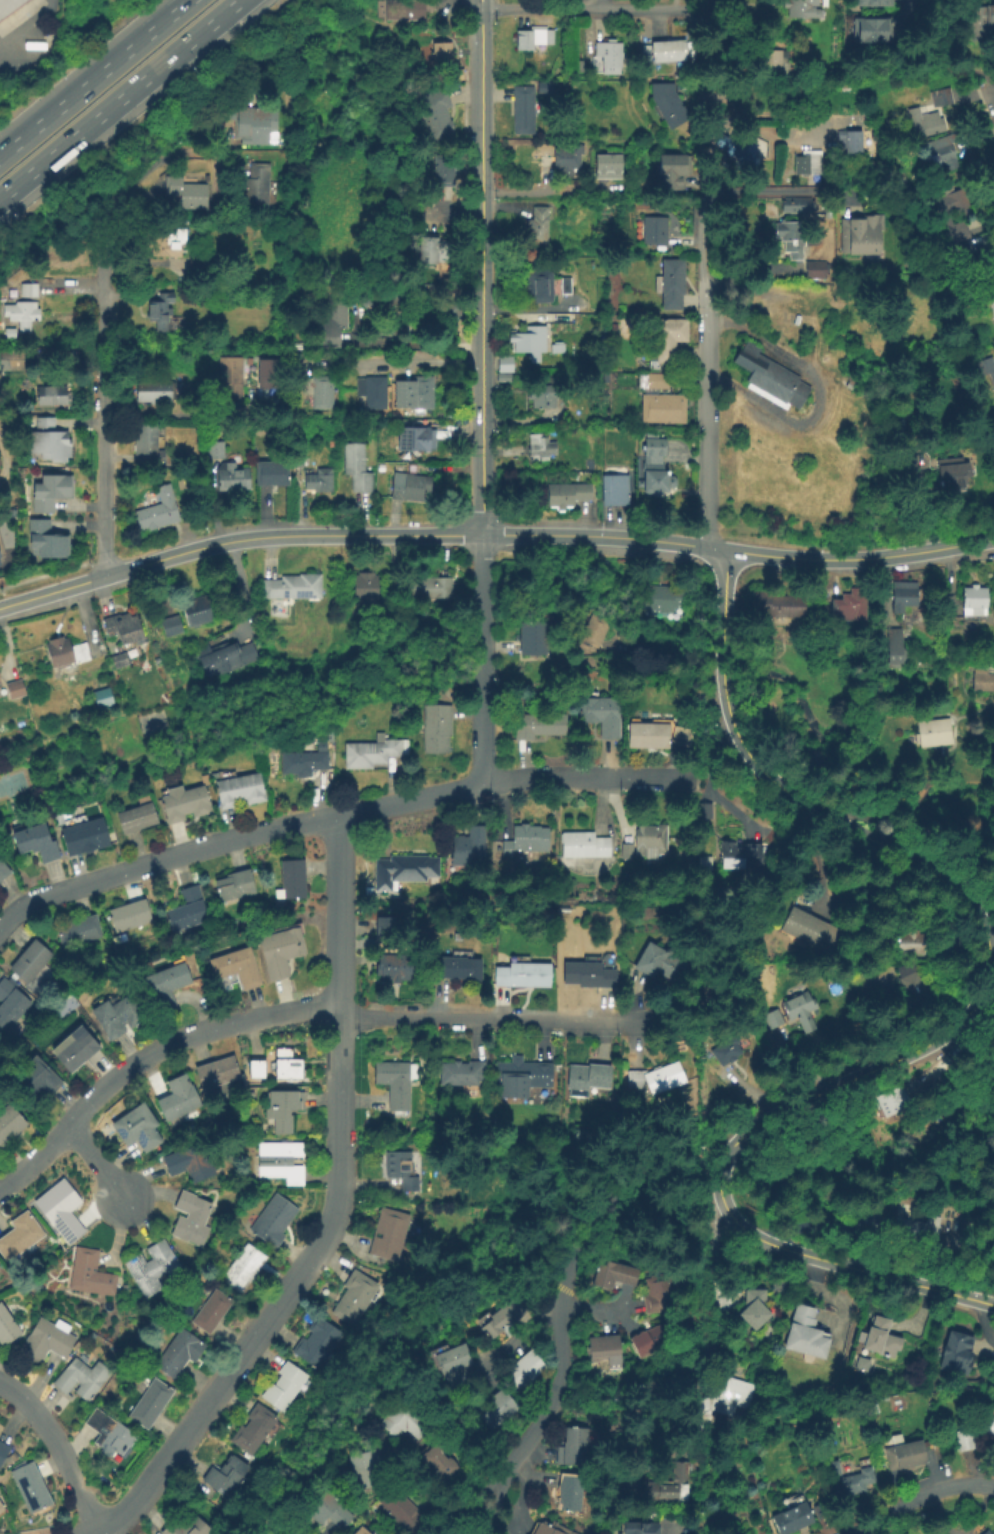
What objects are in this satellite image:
building: (873, 3)
road: (698, 4)
building: (7, 5)
road: (481, 5)
building: (795, 6)
road: (604, 8)
building: (406, 10)
building: (981, 20)
building: (873, 30)
road: (33, 31)
building: (536, 36)
building: (673, 48)
building: (438, 52)
building: (614, 54)
building: (773, 60)
road: (942, 63)
building: (456, 73)
road: (93, 77)
building: (548, 86)
road: (116, 96)
road: (992, 97)
building: (673, 101)
building: (527, 107)
building: (927, 113)
building: (438, 115)
building: (257, 124)
building: (847, 138)
building: (909, 147)
building: (737, 149)
building: (939, 151)
building: (573, 155)
building: (608, 167)
building: (802, 167)
building: (672, 172)
building: (447, 174)
road: (706, 182)
building: (256, 184)
road: (756, 189)
building: (188, 192)
building: (793, 201)
road: (436, 214)
building: (944, 214)
building: (541, 226)
building: (659, 228)
building: (787, 235)
building: (861, 237)
building: (167, 240)
building: (437, 249)
building: (959, 250)
building: (981, 258)
building: (199, 262)
building: (813, 268)
road: (483, 273)
building: (675, 282)
building: (566, 287)
building: (993, 287)
building: (540, 288)
building: (27, 291)
building: (393, 294)
building: (161, 311)
building: (23, 315)
building: (336, 319)
building: (992, 319)
building: (388, 328)
building: (859, 331)
building: (670, 337)
building: (533, 339)
road: (415, 358)
building: (11, 359)
building: (506, 366)
building: (985, 367)
building: (271, 368)
building: (234, 377)
building: (768, 377)
building: (852, 378)
road: (104, 387)
building: (319, 388)
building: (421, 389)
building: (156, 390)
building: (374, 391)
road: (817, 391)
building: (55, 394)
building: (545, 394)
building: (663, 398)
road: (706, 416)
building: (421, 439)
building: (52, 441)
building: (150, 443)
building: (543, 444)
building: (217, 447)
building: (299, 456)
road: (5, 461)
building: (359, 466)
building: (275, 470)
building: (655, 470)
building: (950, 474)
building: (235, 478)
building: (322, 479)
building: (412, 487)
building: (617, 488)
building: (53, 492)
building: (570, 493)
building: (161, 510)
road: (413, 537)
building: (49, 541)
building: (0, 551)
building: (1, 555)
road: (862, 560)
road: (88, 572)
building: (294, 586)
building: (368, 586)
building: (432, 586)
road: (50, 594)
building: (665, 598)
building: (902, 599)
building: (971, 600)
building: (846, 602)
building: (773, 604)
building: (201, 608)
building: (894, 618)
building: (172, 623)
building: (125, 624)
building: (597, 630)
building: (538, 637)
building: (891, 647)
building: (61, 651)
road: (670, 654)
building: (220, 656)
building: (119, 659)
road: (483, 660)
building: (981, 679)
building: (1, 685)
building: (17, 689)
building: (100, 696)
building: (597, 712)
building: (535, 723)
building: (440, 726)
building: (932, 731)
building: (643, 733)
building: (676, 734)
building: (373, 751)
building: (307, 760)
road: (783, 787)
building: (245, 788)
building: (190, 803)
building: (701, 809)
road: (340, 815)
building: (141, 816)
building: (88, 834)
building: (647, 838)
building: (39, 840)
building: (521, 840)
building: (580, 844)
building: (463, 845)
building: (622, 849)
building: (725, 854)
building: (5, 868)
building: (407, 869)
building: (297, 877)
building: (239, 883)
building: (193, 908)
building: (133, 914)
building: (383, 925)
building: (801, 927)
building: (83, 931)
building: (904, 940)
building: (287, 949)
building: (34, 960)
building: (655, 962)
building: (241, 964)
building: (399, 967)
building: (467, 968)
building: (517, 973)
building: (582, 974)
building: (911, 983)
building: (171, 985)
building: (12, 1003)
road: (296, 1009)
building: (797, 1011)
building: (121, 1014)
building: (771, 1018)
road: (969, 1031)
building: (80, 1047)
building: (723, 1050)
building: (290, 1068)
building: (258, 1069)
building: (220, 1071)
building: (466, 1071)
building: (520, 1075)
building: (652, 1077)
building: (39, 1078)
building: (582, 1078)
building: (399, 1082)
building: (181, 1097)
building: (891, 1100)
building: (285, 1109)
building: (11, 1124)
building: (142, 1127)
building: (283, 1160)
road: (98, 1162)
building: (194, 1162)
building: (404, 1168)
road: (718, 1172)
building: (65, 1210)
road: (335, 1216)
building: (193, 1218)
building: (276, 1220)
building: (854, 1222)
building: (917, 1227)
building: (391, 1232)
building: (22, 1237)
building: (155, 1266)
building: (245, 1267)
building: (91, 1273)
building: (617, 1273)
road: (563, 1293)
building: (665, 1293)
building: (356, 1297)
building: (755, 1304)
building: (213, 1311)
building: (502, 1315)
road: (545, 1315)
building: (9, 1326)
building: (804, 1330)
road: (714, 1332)
building: (871, 1337)
building: (49, 1341)
road: (409, 1341)
building: (657, 1341)
building: (318, 1343)
building: (612, 1349)
building: (957, 1350)
building: (180, 1352)
building: (460, 1363)
building: (530, 1368)
building: (992, 1368)
building: (85, 1378)
building: (286, 1386)
building: (720, 1397)
building: (153, 1403)
building: (503, 1408)
road: (449, 1415)
building: (407, 1420)
building: (255, 1429)
building: (976, 1431)
building: (111, 1434)
building: (578, 1445)
road: (59, 1450)
building: (4, 1453)
building: (439, 1455)
building: (897, 1455)
building: (372, 1469)
building: (229, 1475)
building: (843, 1480)
building: (676, 1482)
road: (421, 1485)
building: (32, 1487)
road: (351, 1493)
building: (576, 1493)
road: (924, 1494)
road: (523, 1498)
building: (2, 1507)
building: (406, 1507)
road: (468, 1507)
building: (338, 1508)
road: (487, 1512)
building: (785, 1519)
building: (187, 1526)
building: (554, 1528)
building: (649, 1528)
road: (676, 1528)
building: (359, 1530)
building: (367, 1531)
building: (293, 1532)
building: (983, 1532)
building: (300, 1533)

